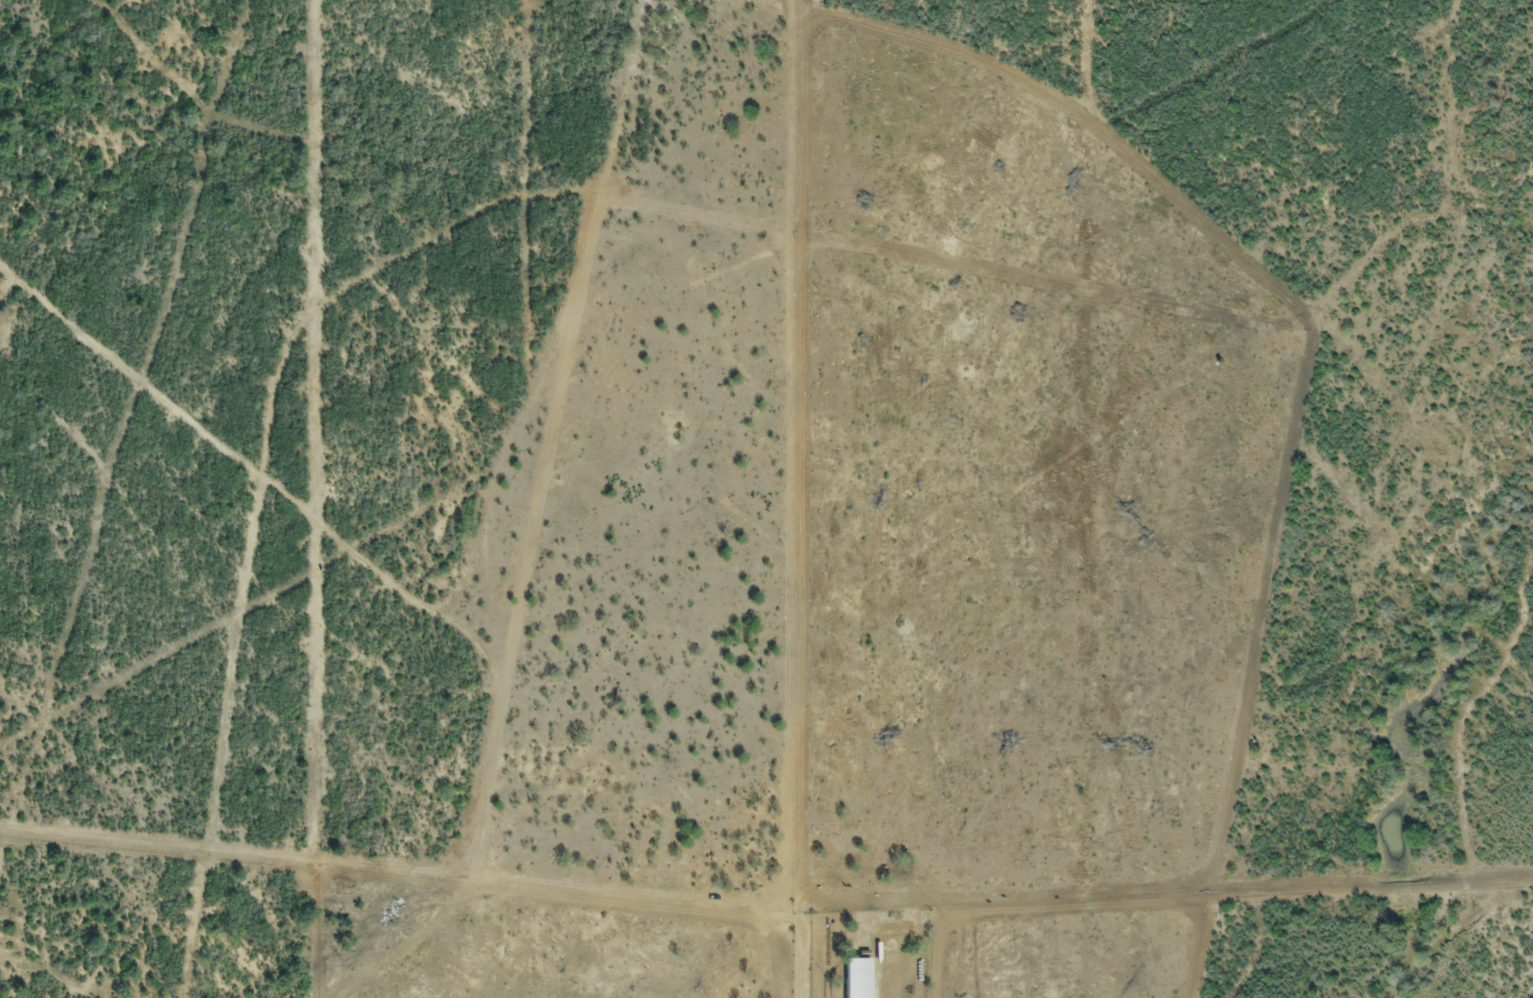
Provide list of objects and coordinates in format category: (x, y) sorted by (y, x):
building: (860, 978)

